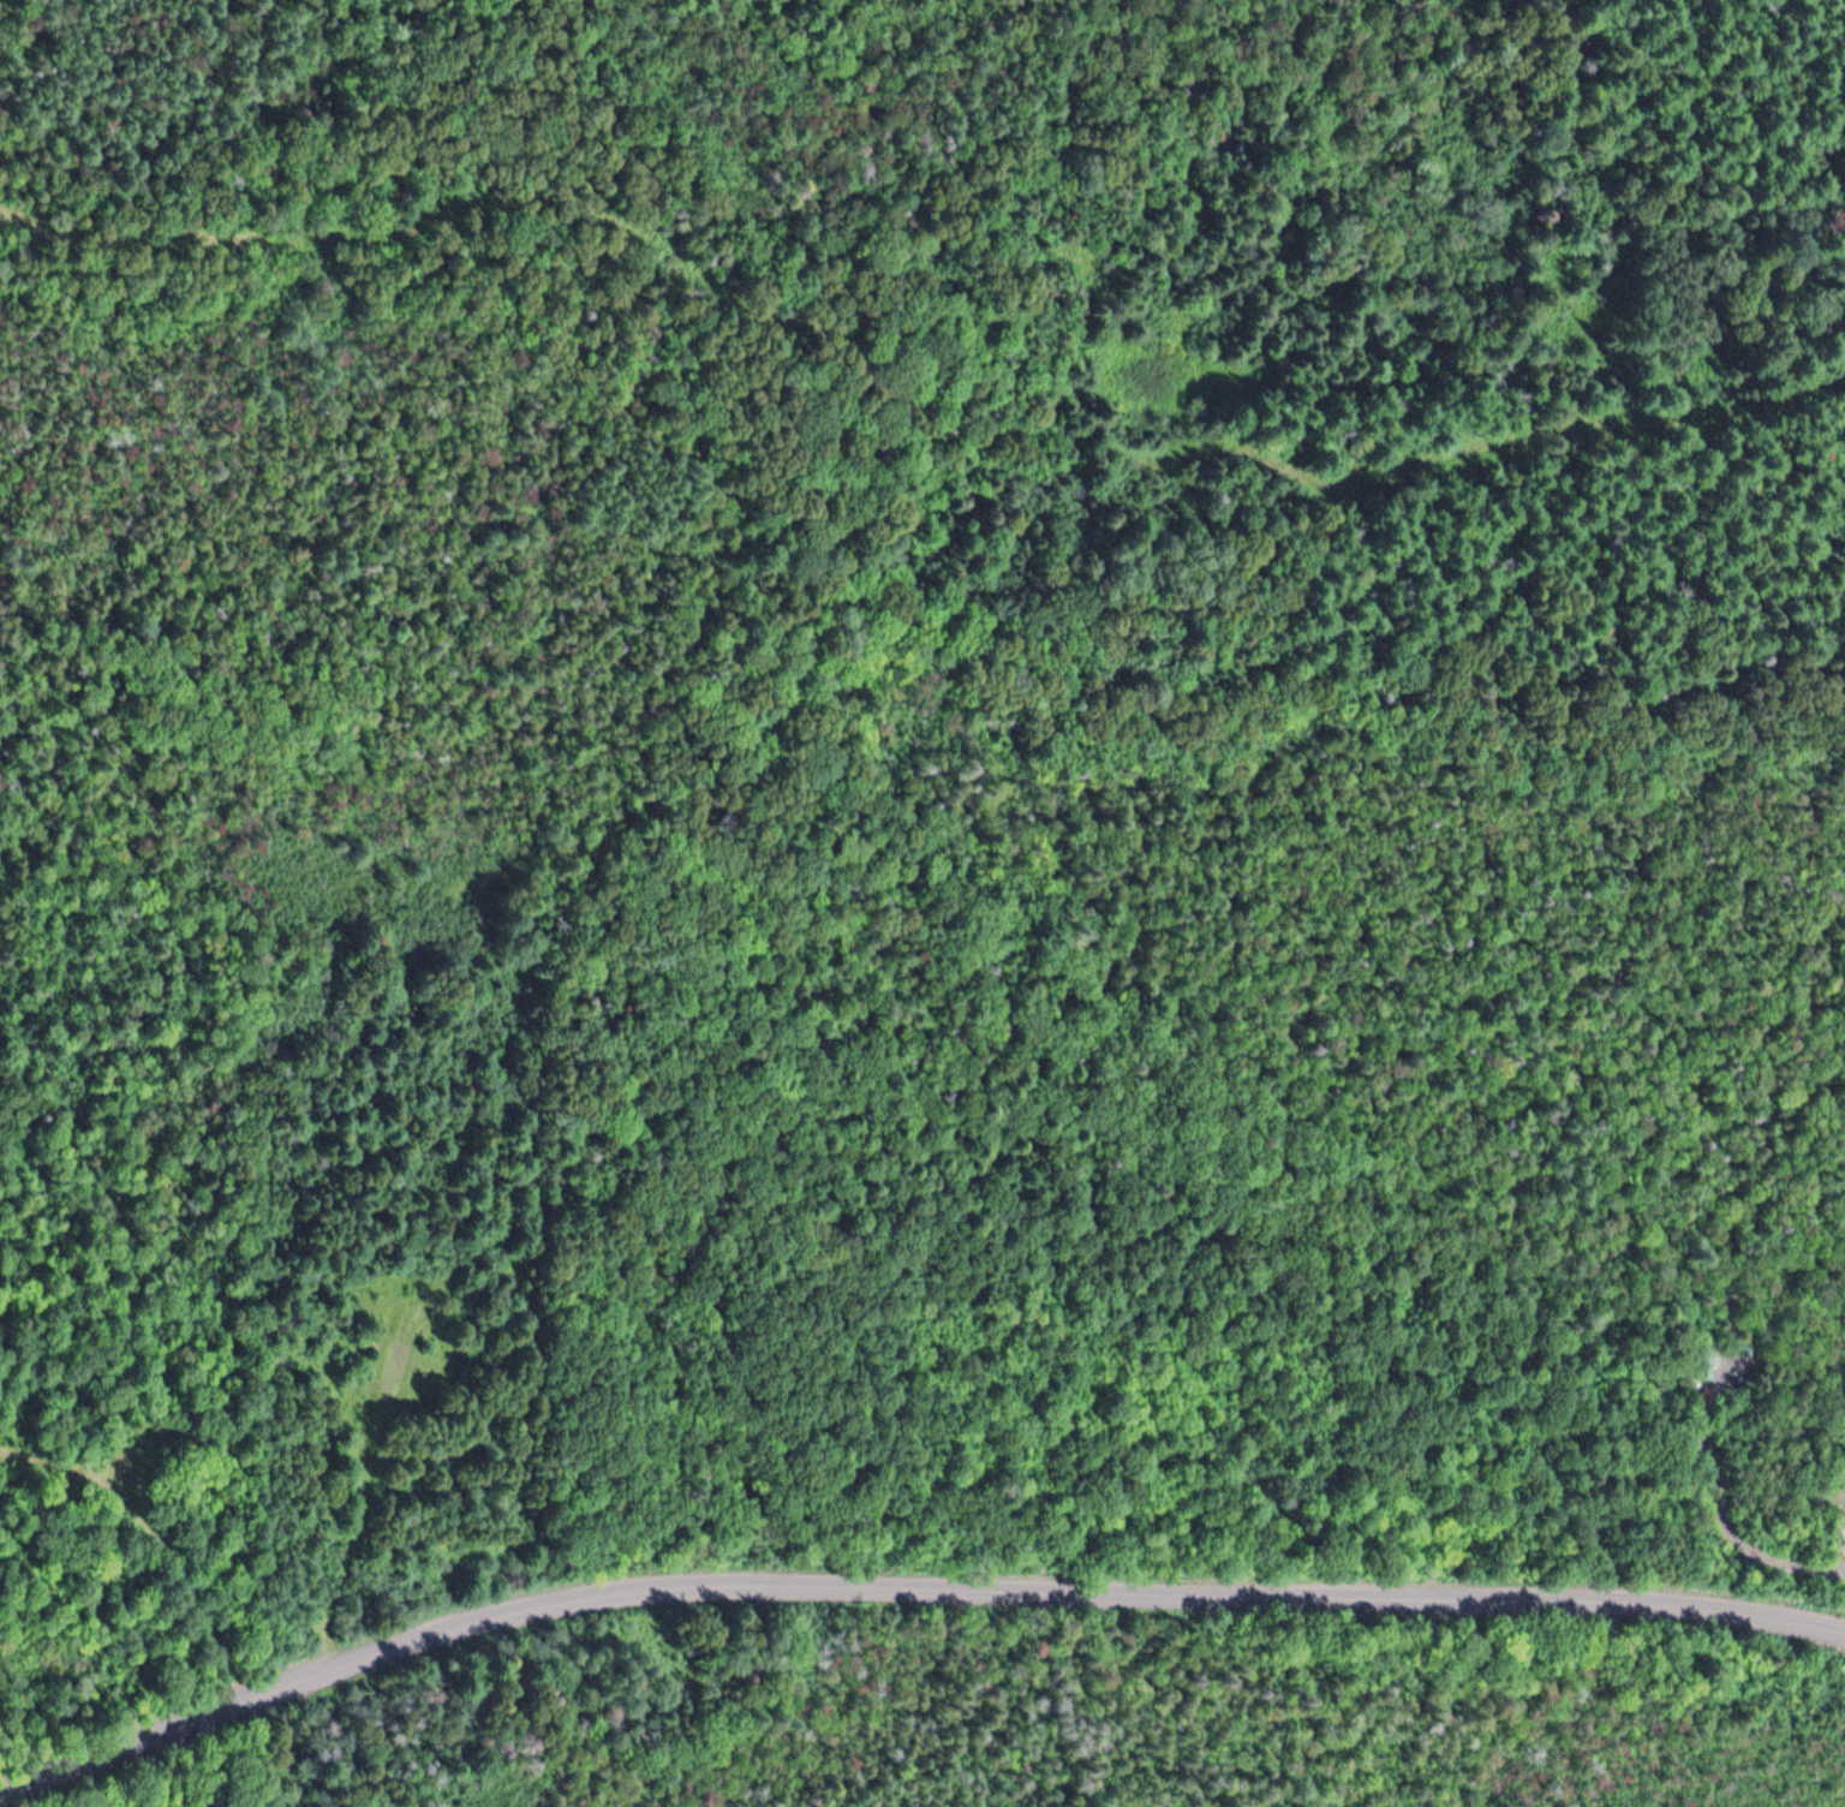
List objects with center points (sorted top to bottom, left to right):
road: (399, 217)
road: (1290, 463)
building: (1701, 1361)
road: (1722, 1523)
road: (906, 1580)

